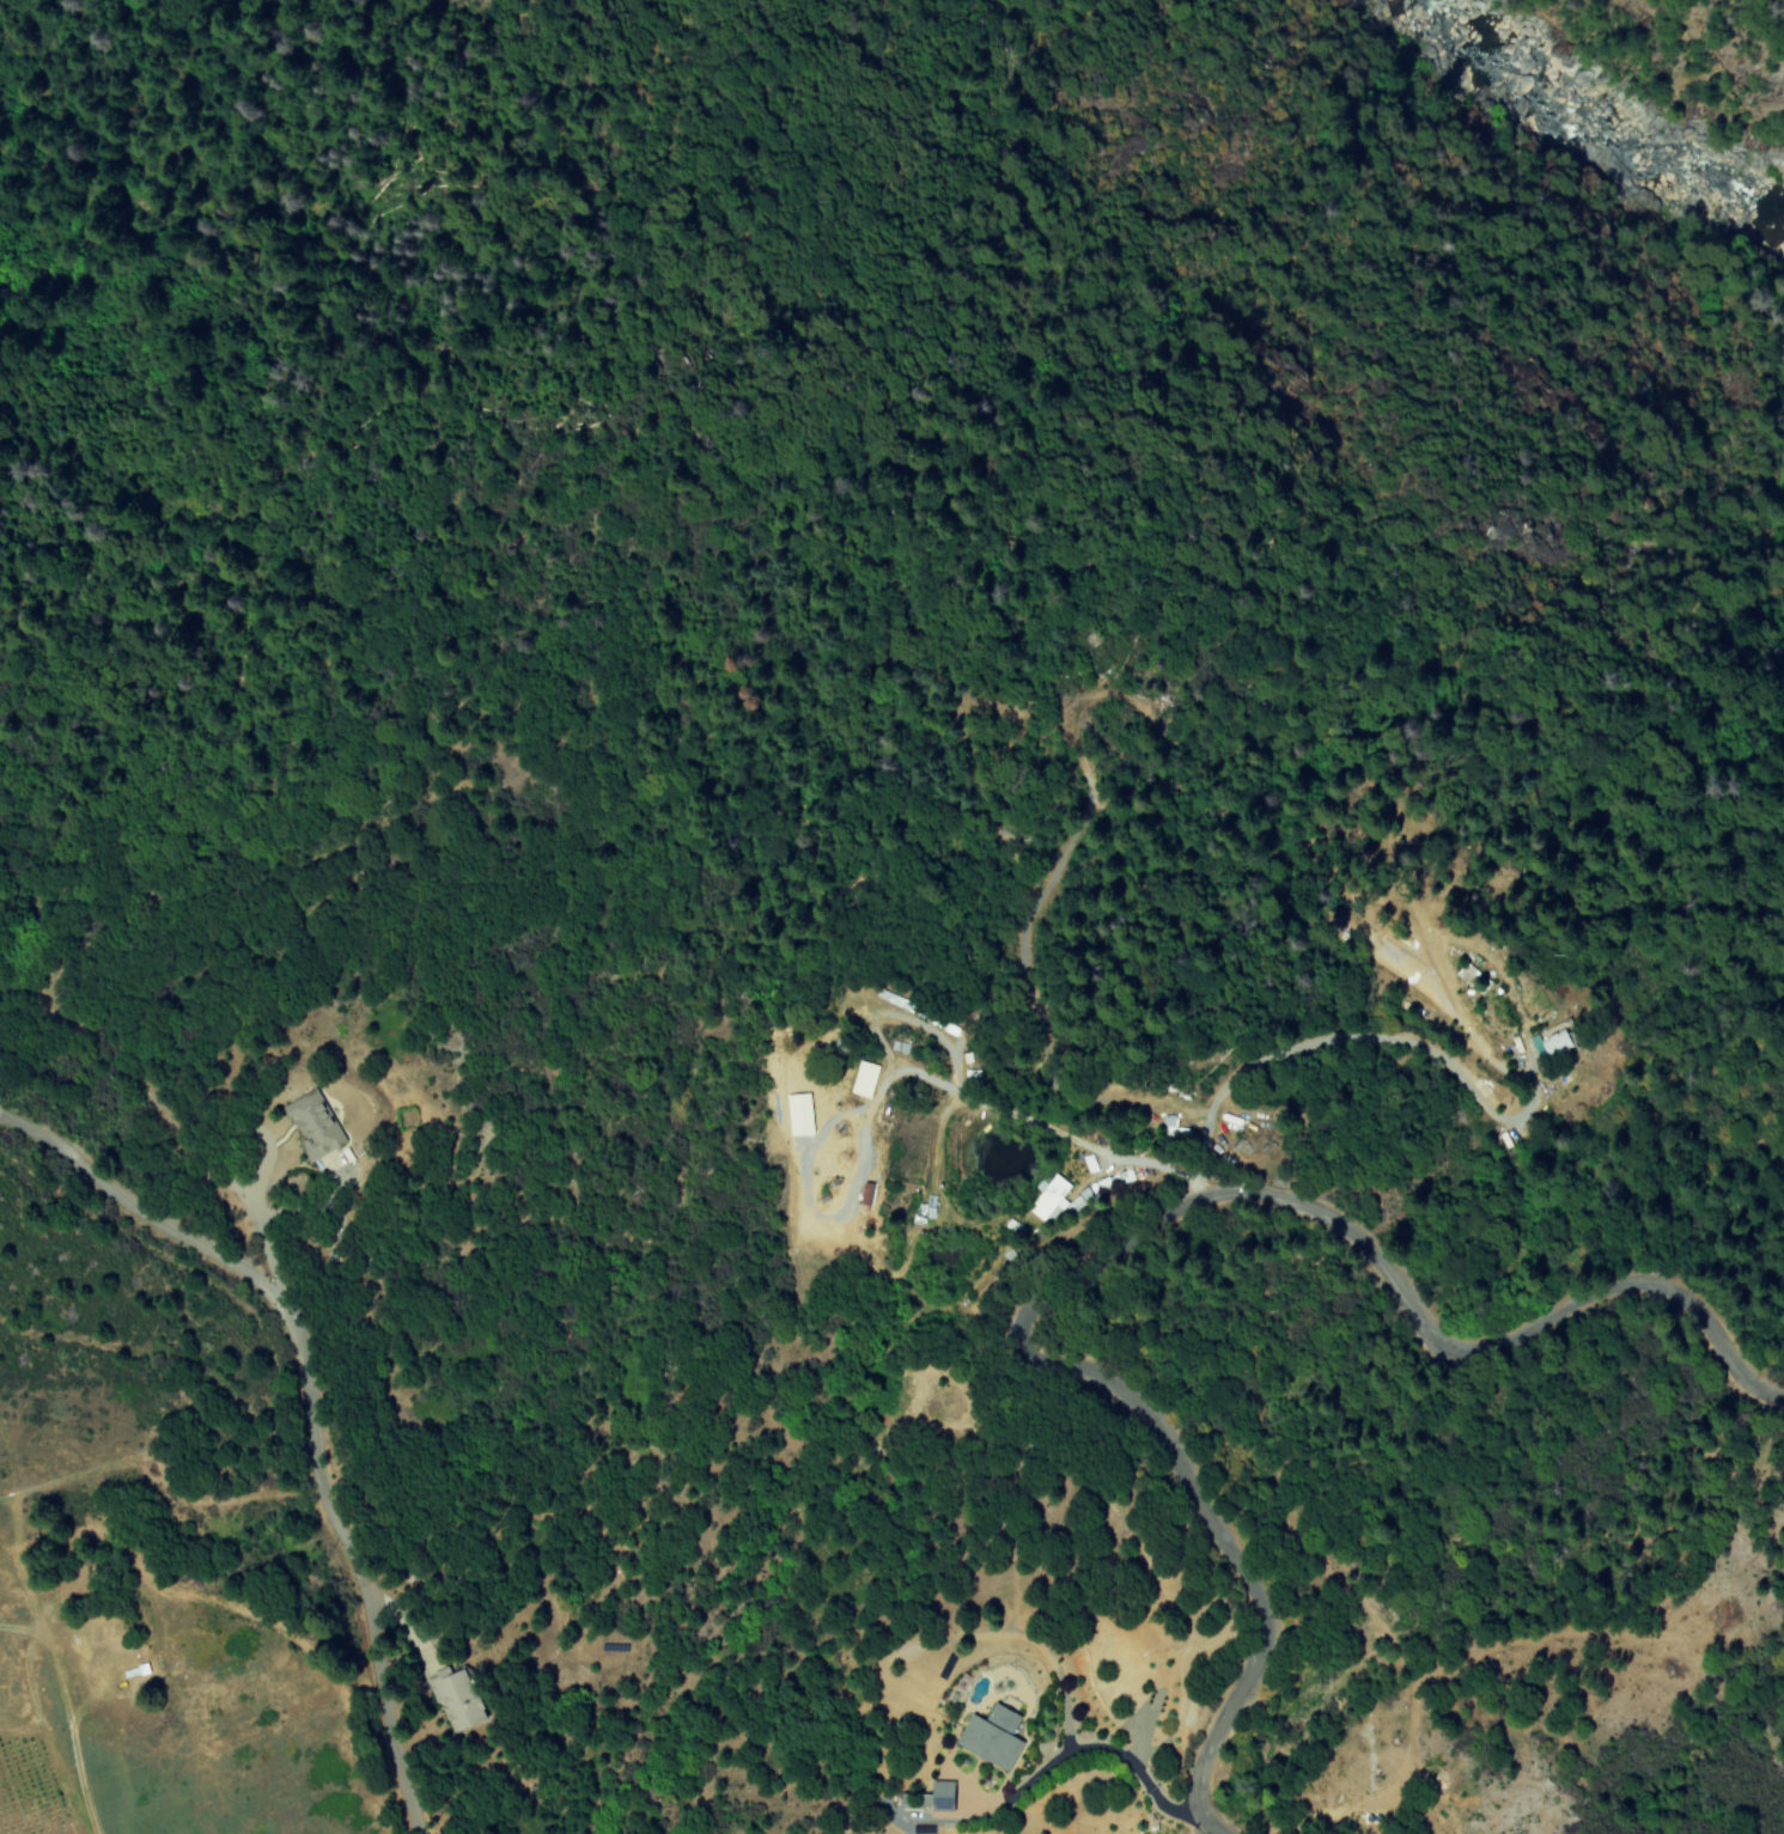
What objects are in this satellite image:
river: (1631, 97)
road: (1348, 1038)
building: (1549, 1044)
building: (863, 1079)
building: (313, 1128)
building: (333, 1160)
building: (1048, 1199)
road: (1130, 1235)
road: (268, 1253)
road: (304, 1407)
crop: (205, 1620)
building: (457, 1696)
building: (990, 1736)
road: (1104, 1748)
crop: (194, 1775)
building: (940, 1796)

